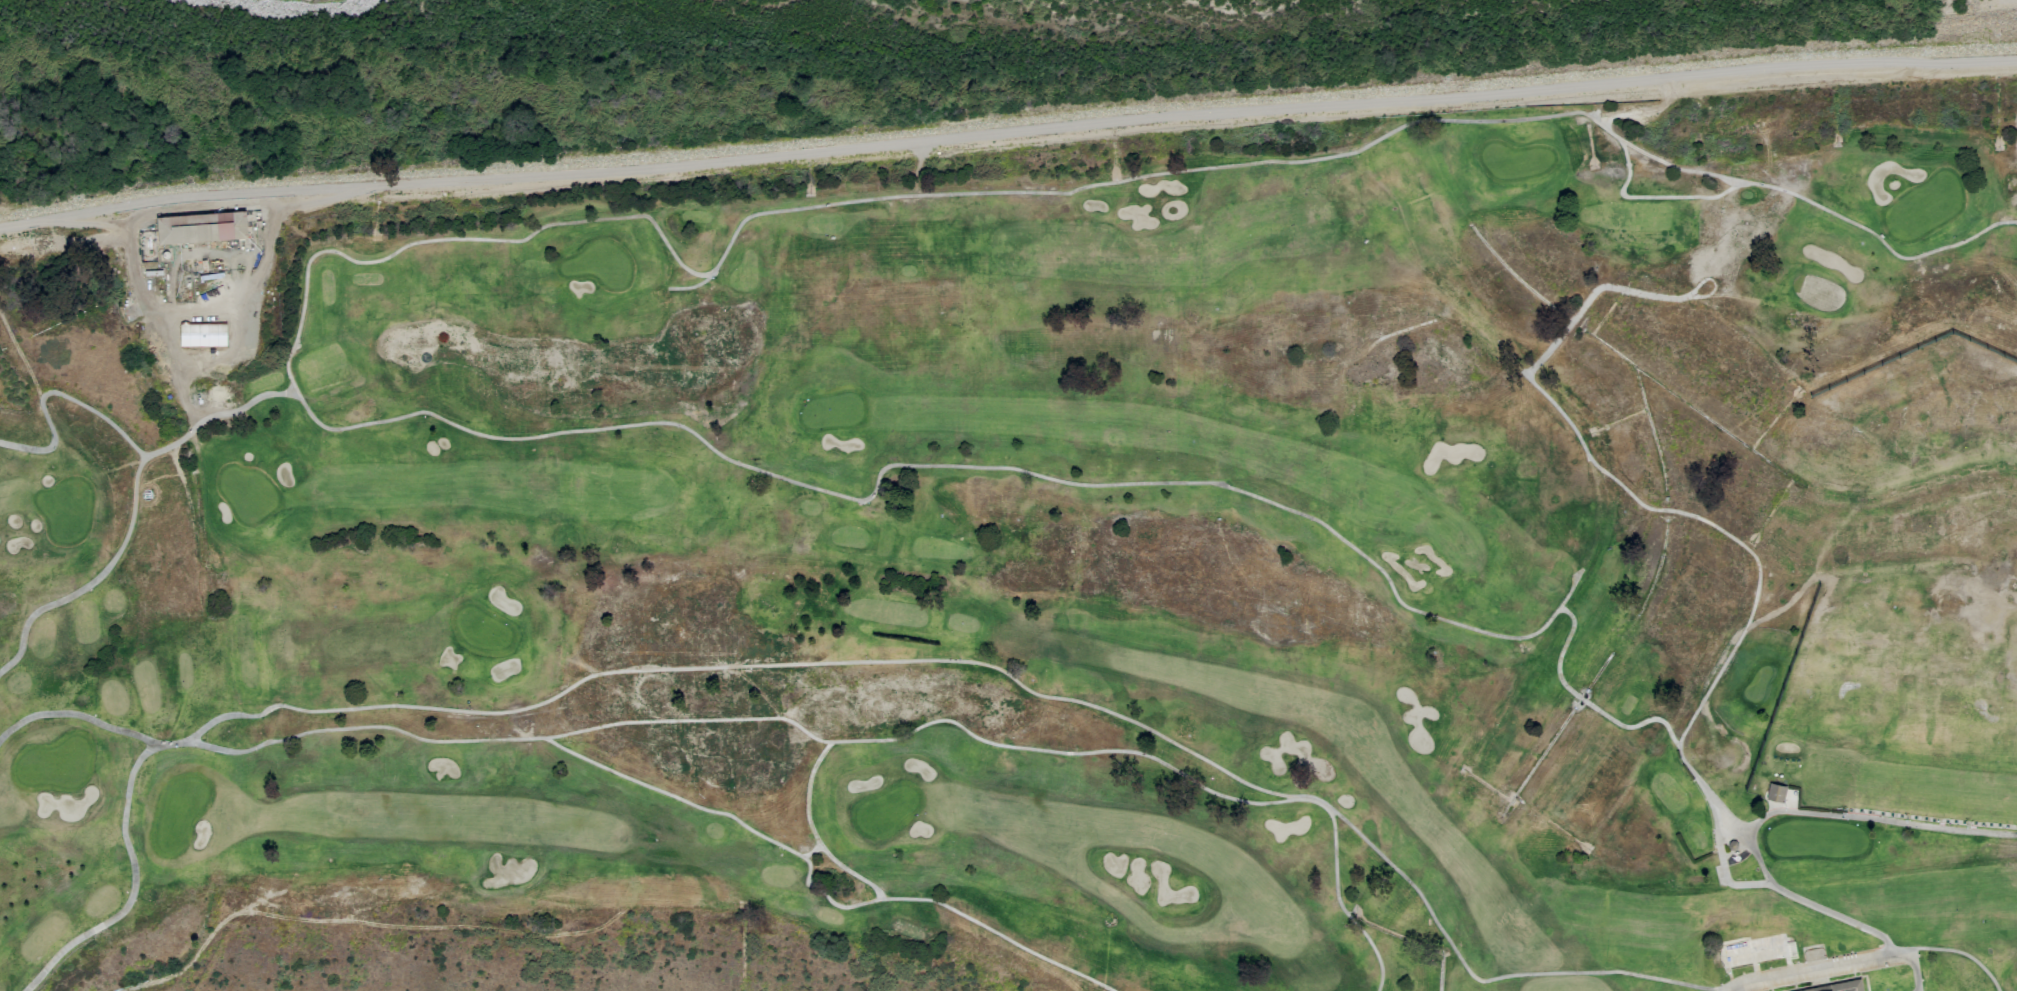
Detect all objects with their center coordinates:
road: (1183, 115)
road: (1347, 153)
road: (1654, 197)
road: (35, 220)
building: (201, 227)
building: (147, 247)
road: (131, 275)
road: (1623, 290)
road: (193, 310)
building: (202, 334)
road: (56, 393)
road: (669, 423)
road: (132, 508)
road: (1714, 527)
park: (1036, 555)
road: (1568, 592)
road: (742, 666)
road: (1603, 713)
road: (81, 716)
road: (528, 738)
road: (1200, 786)
building: (1775, 792)
road: (1876, 818)
road: (812, 832)
road: (1742, 833)
road: (811, 851)
road: (133, 883)
road: (1768, 885)
road: (815, 887)
road: (1962, 953)
road: (1577, 972)
road: (1914, 972)
road: (1740, 986)
building: (1838, 986)

